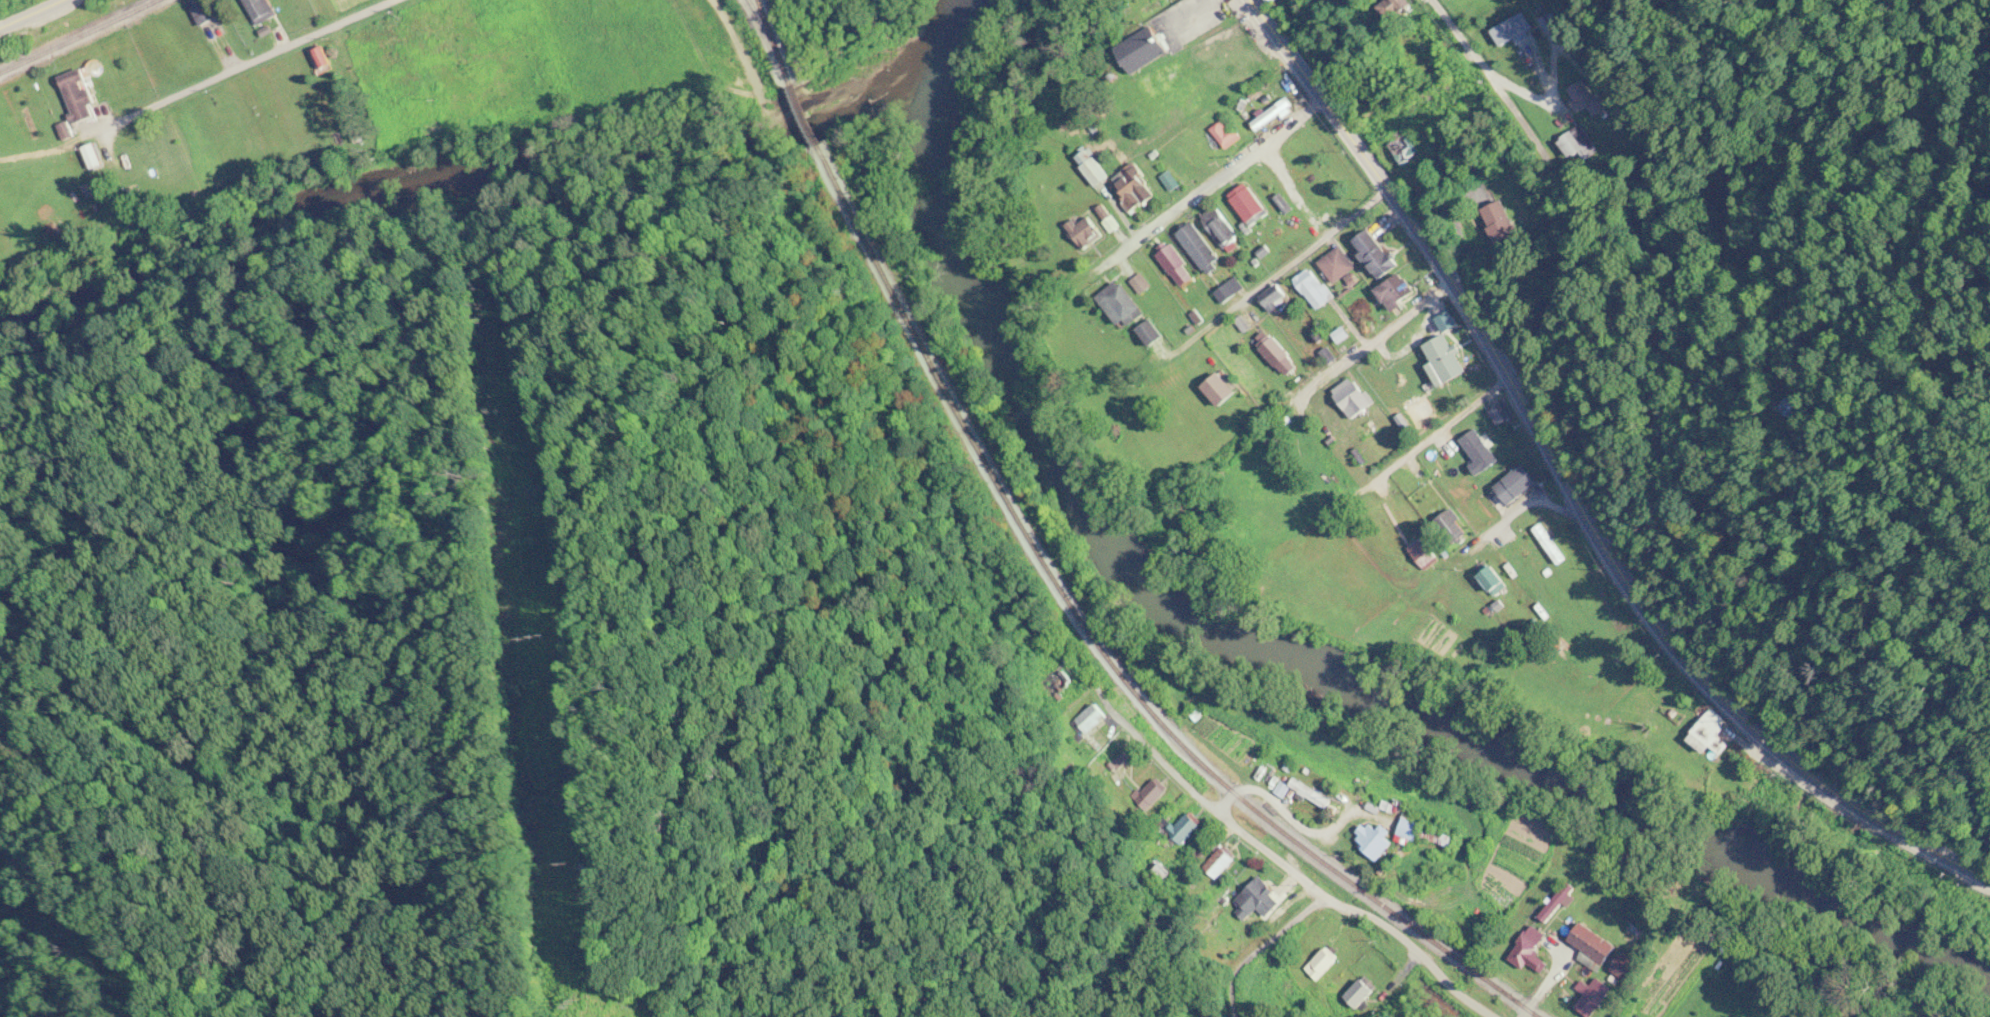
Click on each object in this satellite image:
railway: (757, 4)
building: (1396, 6)
building: (261, 10)
road: (33, 15)
building: (206, 18)
building: (1510, 29)
railway: (69, 32)
river: (945, 48)
building: (1145, 50)
building: (321, 60)
road: (251, 63)
road: (1493, 85)
building: (78, 95)
building: (1587, 98)
building: (1271, 114)
building: (1226, 134)
building: (1577, 144)
building: (1403, 150)
building: (1092, 168)
road: (1211, 177)
building: (1134, 188)
building: (1250, 207)
building: (1501, 224)
building: (1220, 228)
road: (1308, 246)
building: (1200, 248)
building: (1376, 254)
building: (1173, 261)
building: (1337, 266)
building: (1141, 285)
building: (1313, 289)
building: (1397, 292)
building: (1275, 298)
building: (1122, 305)
building: (1151, 334)
road: (1371, 351)
building: (1278, 355)
building: (1446, 359)
building: (1221, 391)
building: (1354, 397)
building: (1793, 408)
building: (1501, 415)
road: (1439, 434)
building: (1479, 452)
building: (1516, 484)
road: (1570, 489)
road: (1521, 506)
building: (1452, 527)
building: (1548, 545)
building: (1424, 554)
railway: (1066, 578)
building: (1493, 579)
power tower: (554, 637)
river: (1316, 664)
building: (1064, 684)
building: (1094, 718)
building: (1275, 764)
building: (1310, 793)
building: (1185, 828)
building: (1412, 829)
building: (1373, 841)
building: (1219, 862)
road: (1286, 867)
building: (1257, 900)
building: (1593, 944)
building: (1529, 951)
building: (1322, 964)
building: (1627, 968)
building: (1360, 994)
power tower: (584, 1003)
building: (1728, 1013)

